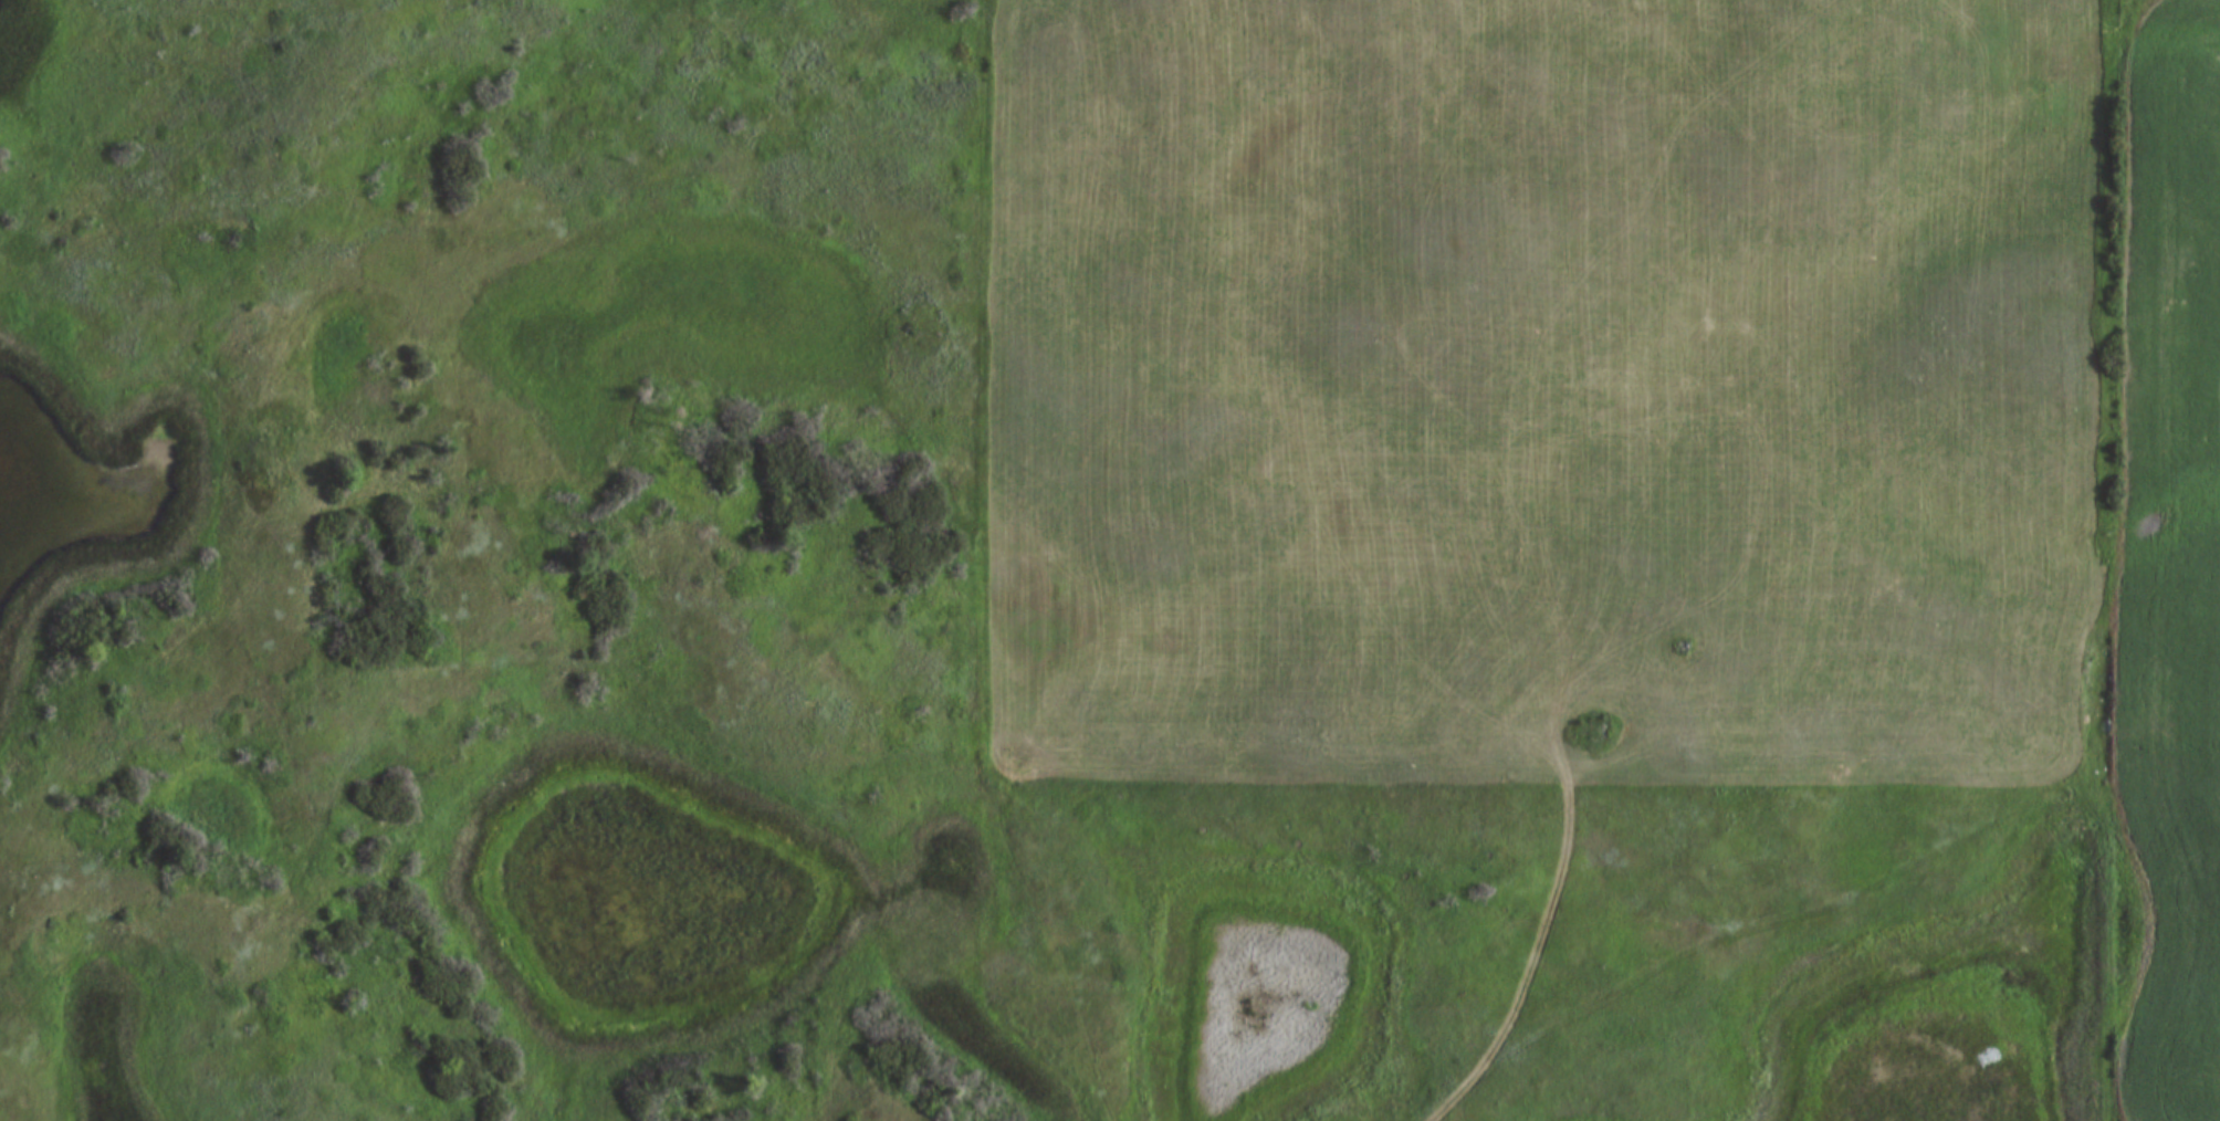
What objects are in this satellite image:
road: (587, 666)

